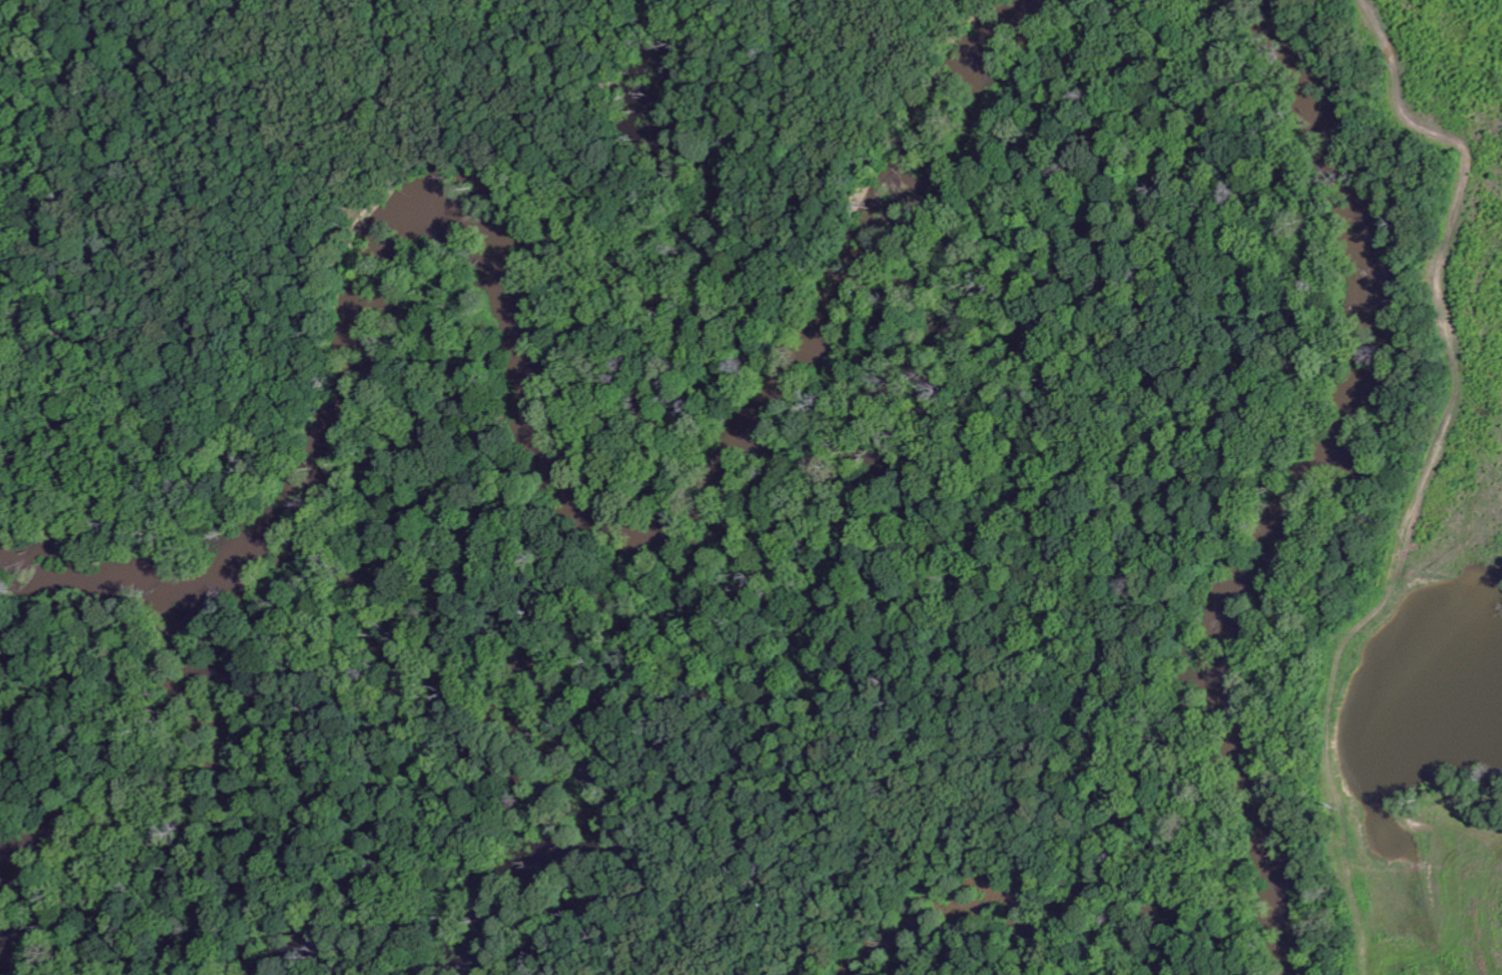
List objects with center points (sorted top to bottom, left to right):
river: (529, 363)
river: (1314, 483)

